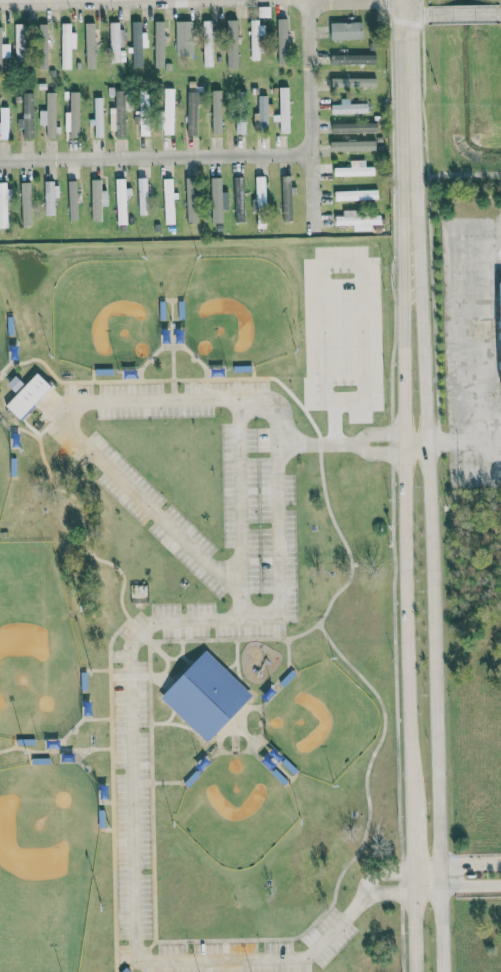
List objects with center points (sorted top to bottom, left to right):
road: (71, 1)
road: (403, 7)
road: (499, 12)
road: (464, 13)
road: (417, 15)
building: (346, 30)
building: (183, 38)
building: (256, 38)
building: (115, 40)
building: (282, 41)
building: (20, 42)
building: (137, 43)
building: (207, 43)
building: (67, 44)
building: (159, 44)
building: (39, 45)
building: (90, 45)
building: (3, 49)
building: (352, 59)
building: (358, 75)
building: (353, 82)
building: (348, 108)
building: (284, 110)
building: (168, 111)
building: (192, 111)
building: (216, 111)
building: (120, 113)
building: (143, 113)
building: (74, 114)
building: (261, 114)
road: (309, 114)
building: (49, 115)
building: (27, 116)
building: (97, 116)
building: (3, 121)
building: (112, 121)
building: (240, 124)
building: (354, 127)
road: (407, 139)
building: (352, 145)
road: (155, 157)
building: (354, 169)
road: (455, 174)
building: (356, 195)
building: (142, 196)
building: (50, 197)
building: (192, 198)
building: (286, 198)
building: (97, 199)
building: (238, 199)
building: (72, 200)
building: (121, 200)
building: (260, 200)
building: (168, 201)
building: (26, 203)
building: (3, 205)
building: (357, 220)
road: (484, 252)
building: (499, 327)
building: (343, 330)
road: (469, 346)
building: (28, 396)
road: (378, 433)
road: (74, 434)
road: (415, 440)
road: (463, 440)
road: (313, 445)
road: (380, 455)
park: (4, 463)
road: (239, 510)
road: (274, 510)
road: (428, 564)
park: (196, 614)
road: (409, 617)
park: (35, 645)
building: (205, 696)
road: (64, 750)
road: (132, 851)
park: (45, 864)
road: (469, 865)
road: (426, 867)
road: (379, 872)
road: (438, 876)
road: (469, 883)
road: (426, 885)
road: (388, 892)
road: (439, 928)
road: (150, 966)

